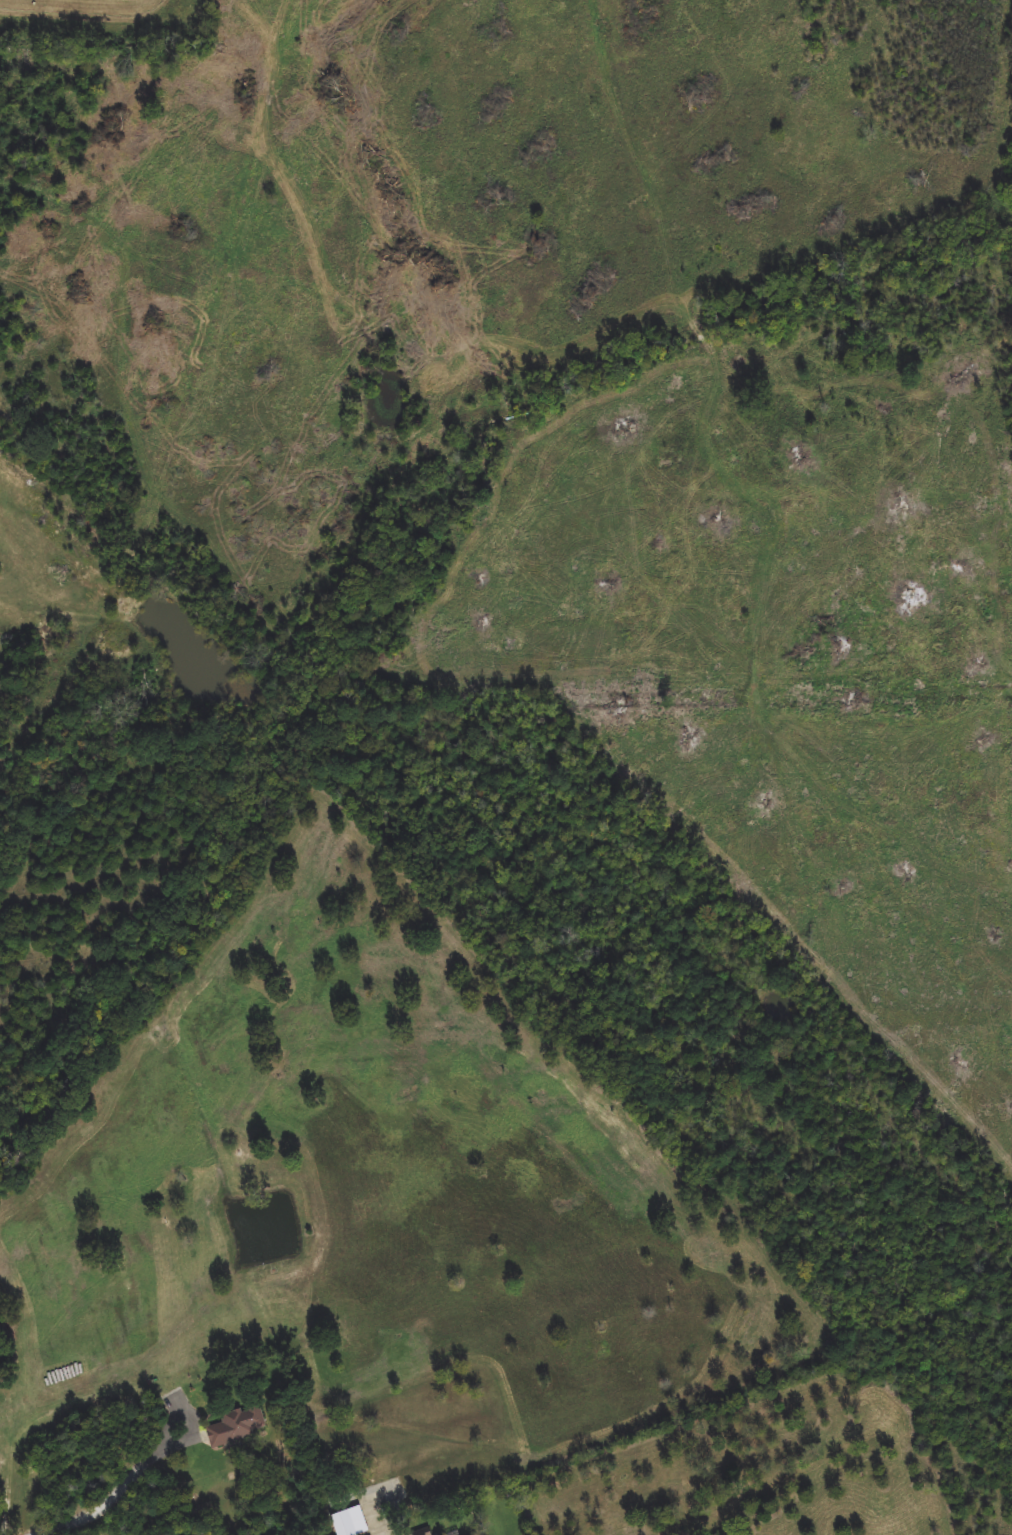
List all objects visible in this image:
building: (240, 1425)
road: (124, 1489)
building: (349, 1523)
building: (433, 1534)
building: (468, 1534)

